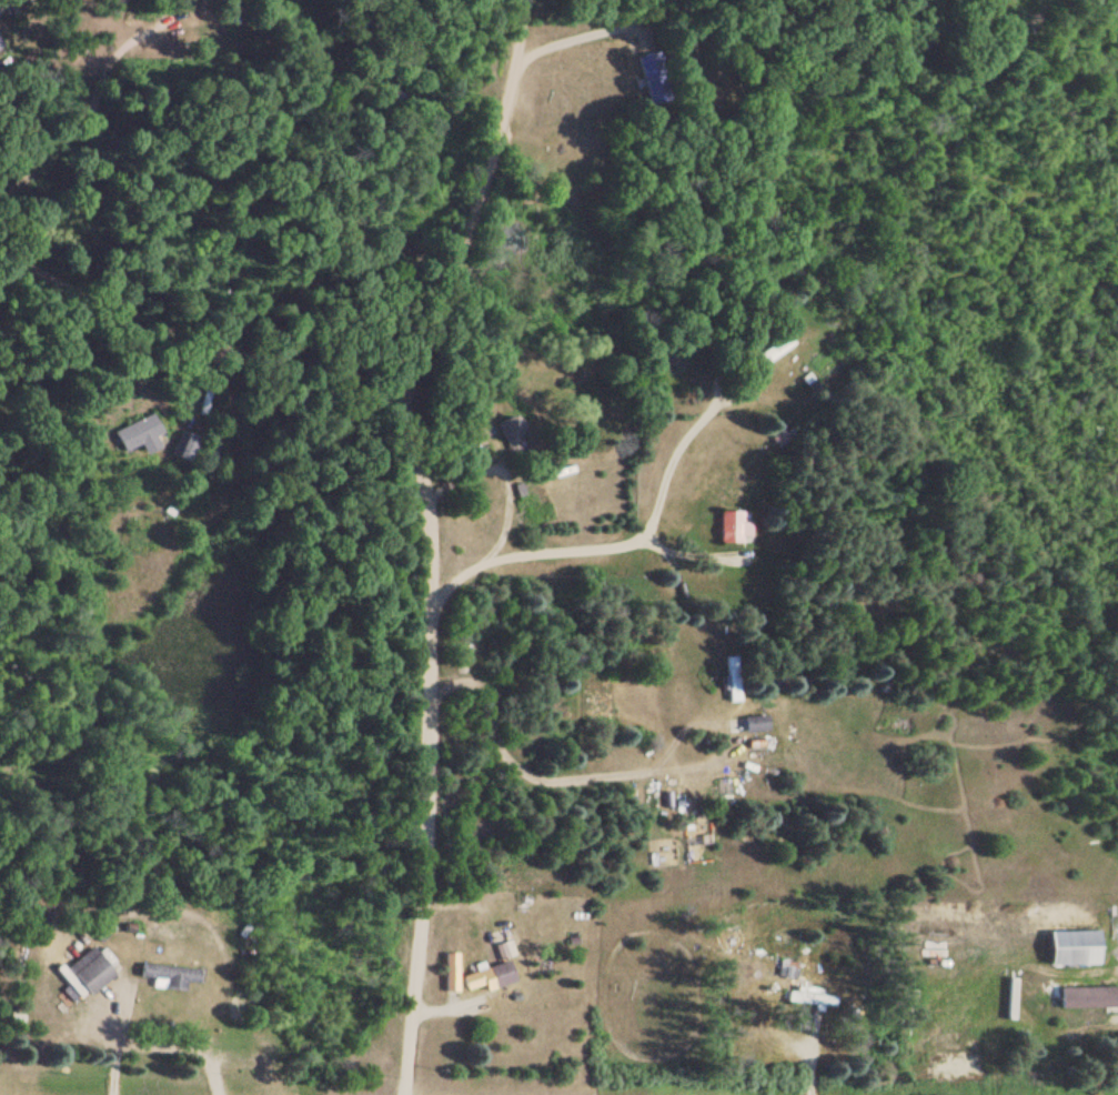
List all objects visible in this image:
building: (1084, 1)
building: (179, 3)
building: (651, 77)
road: (185, 301)
building: (769, 350)
building: (133, 433)
building: (511, 434)
building: (183, 448)
building: (733, 528)
road: (406, 534)
road: (620, 542)
building: (773, 677)
building: (732, 679)
building: (755, 724)
building: (1075, 950)
building: (89, 971)
building: (787, 971)
building: (170, 976)
building: (489, 978)
building: (807, 997)
building: (1088, 998)

